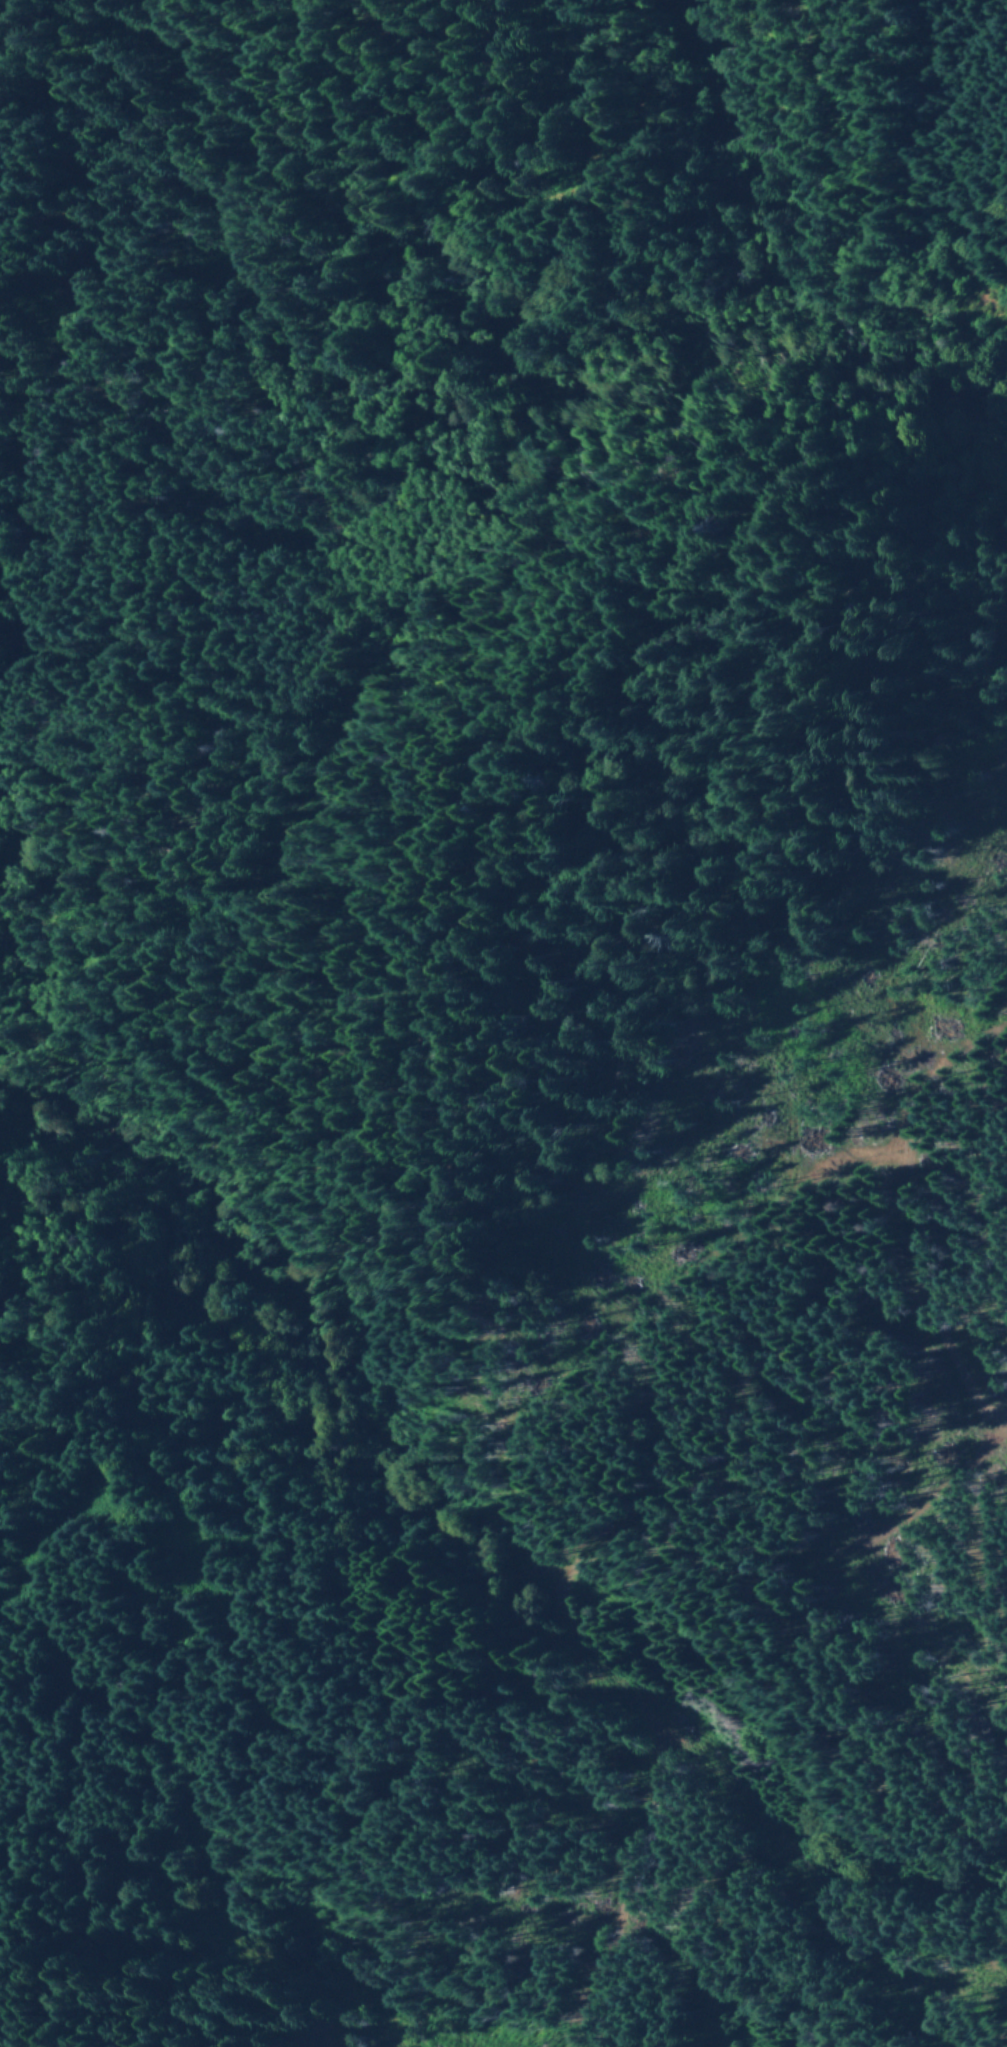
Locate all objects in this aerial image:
road: (488, 1506)

